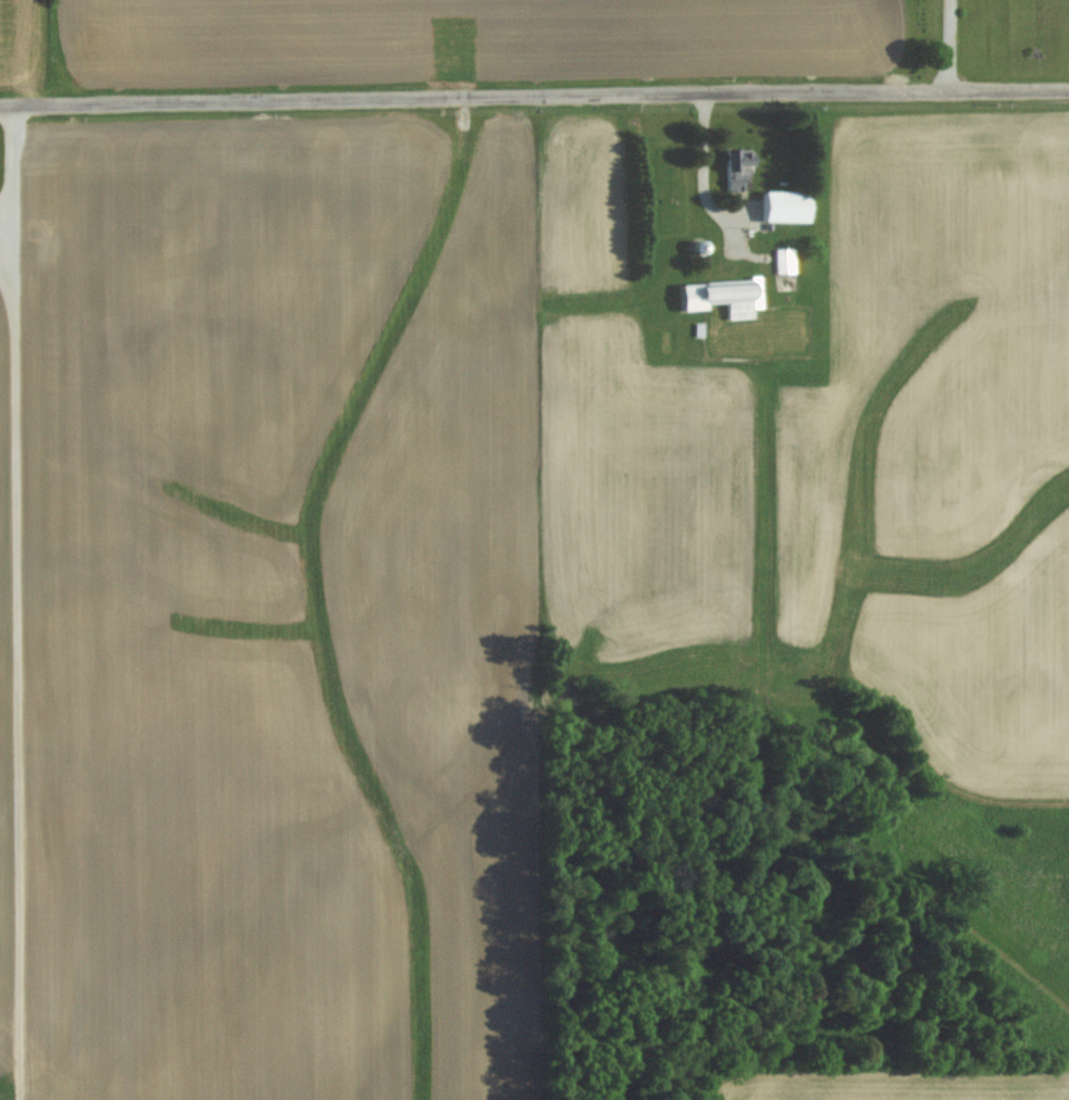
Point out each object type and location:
road: (947, 46)
road: (534, 95)
building: (739, 168)
road: (24, 182)
building: (785, 205)
building: (11, 232)
building: (785, 260)
building: (724, 295)

